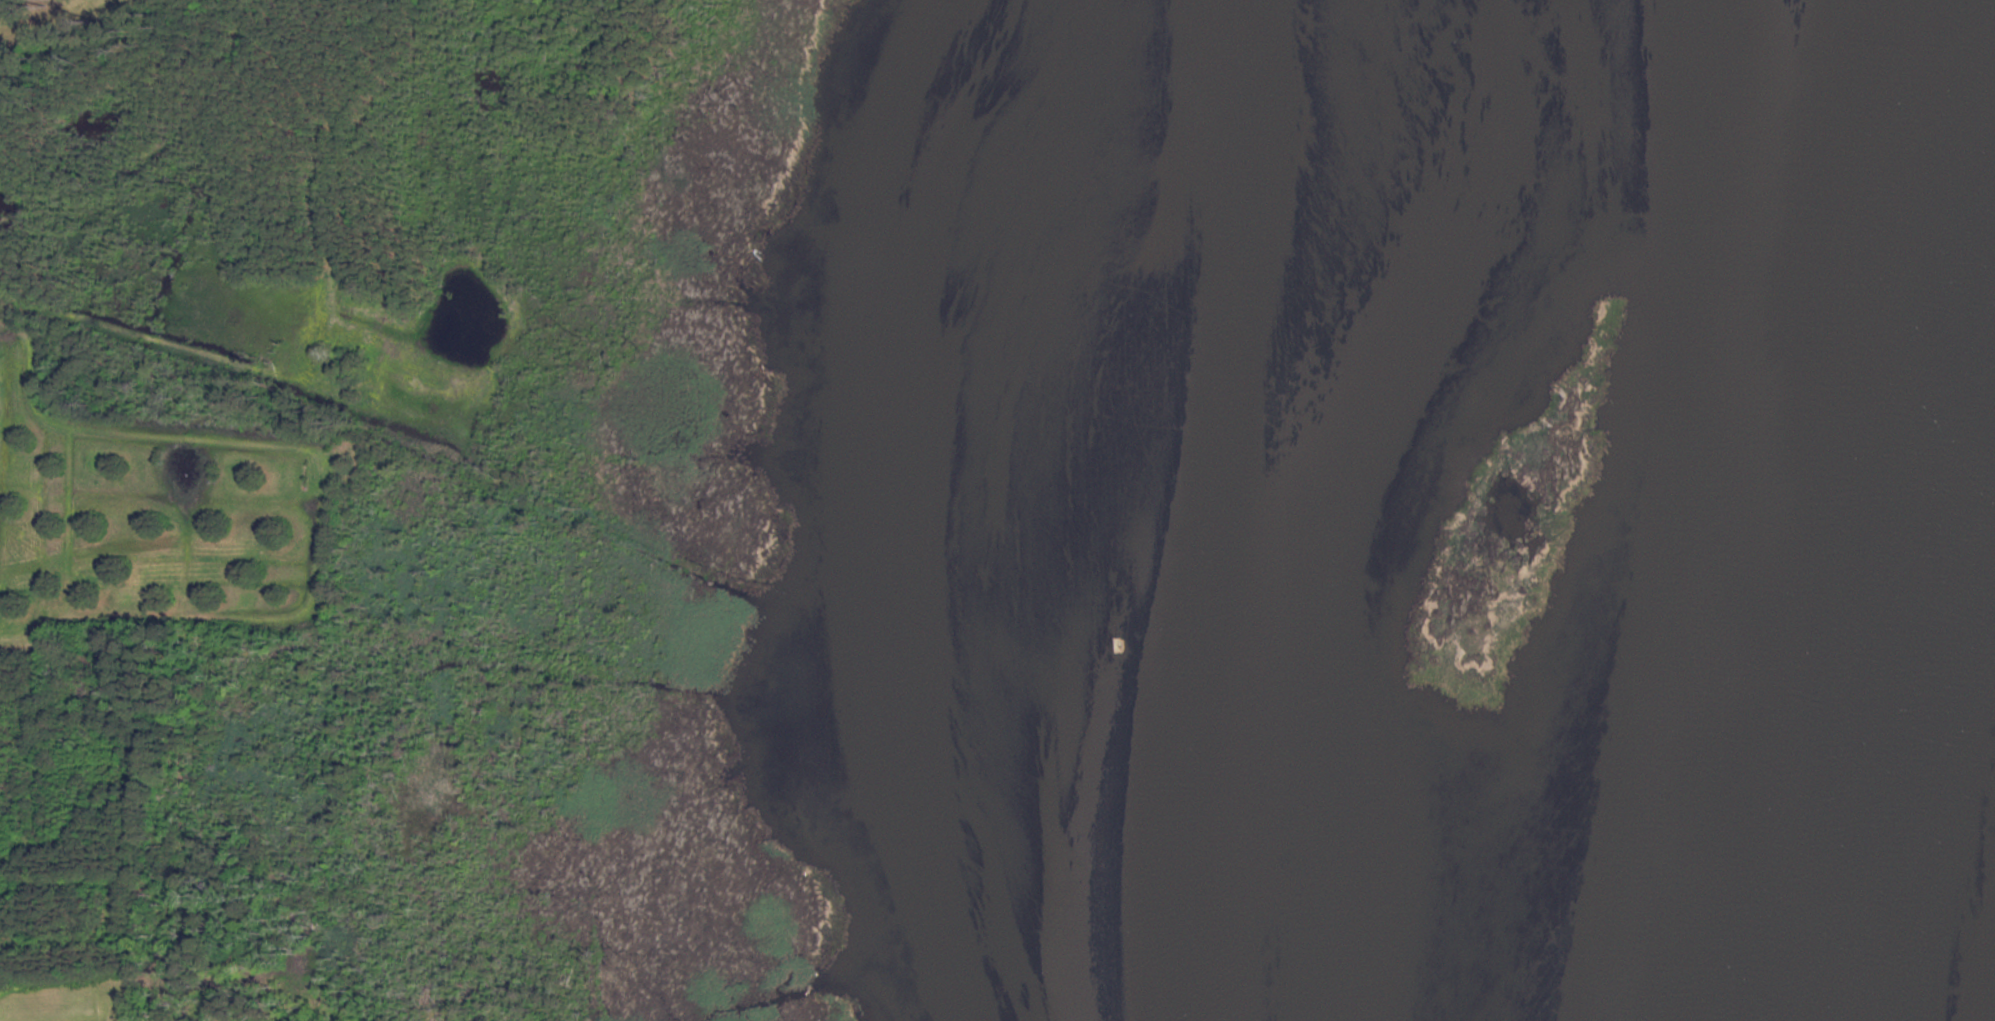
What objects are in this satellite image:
road: (2, 1)
road: (198, 353)
road: (29, 376)
road: (301, 610)
river: (1896, 719)

